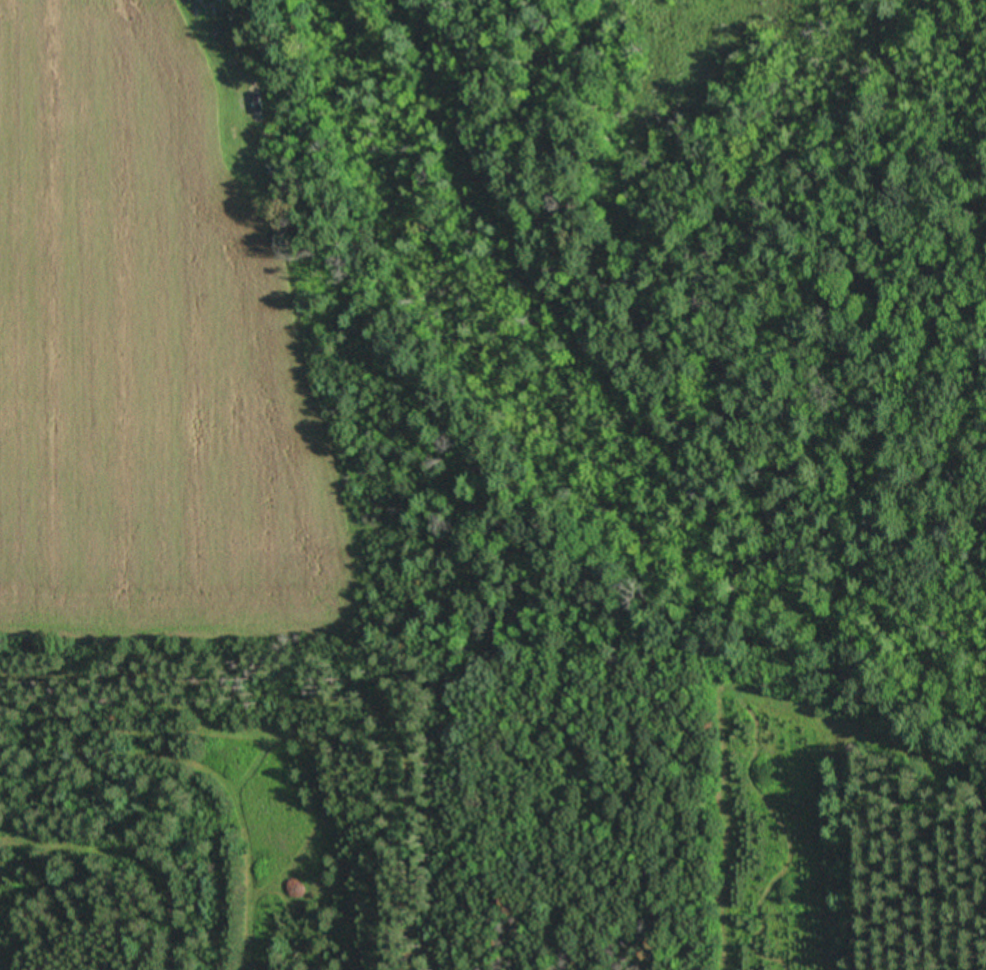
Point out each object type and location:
building: (261, 153)

